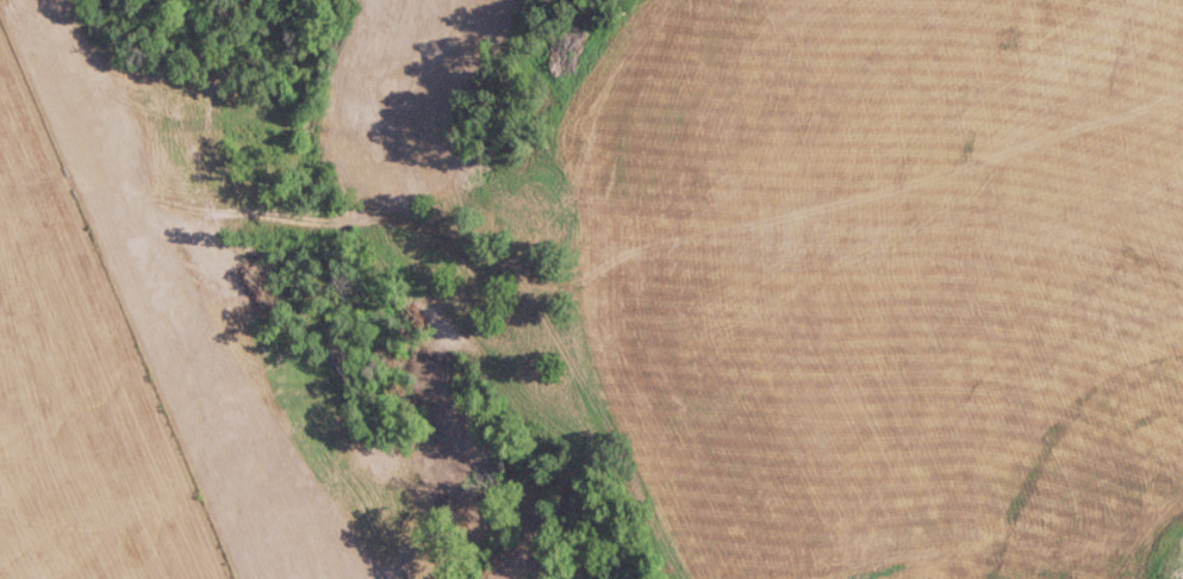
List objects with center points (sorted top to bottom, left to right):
crop: (888, 130)

